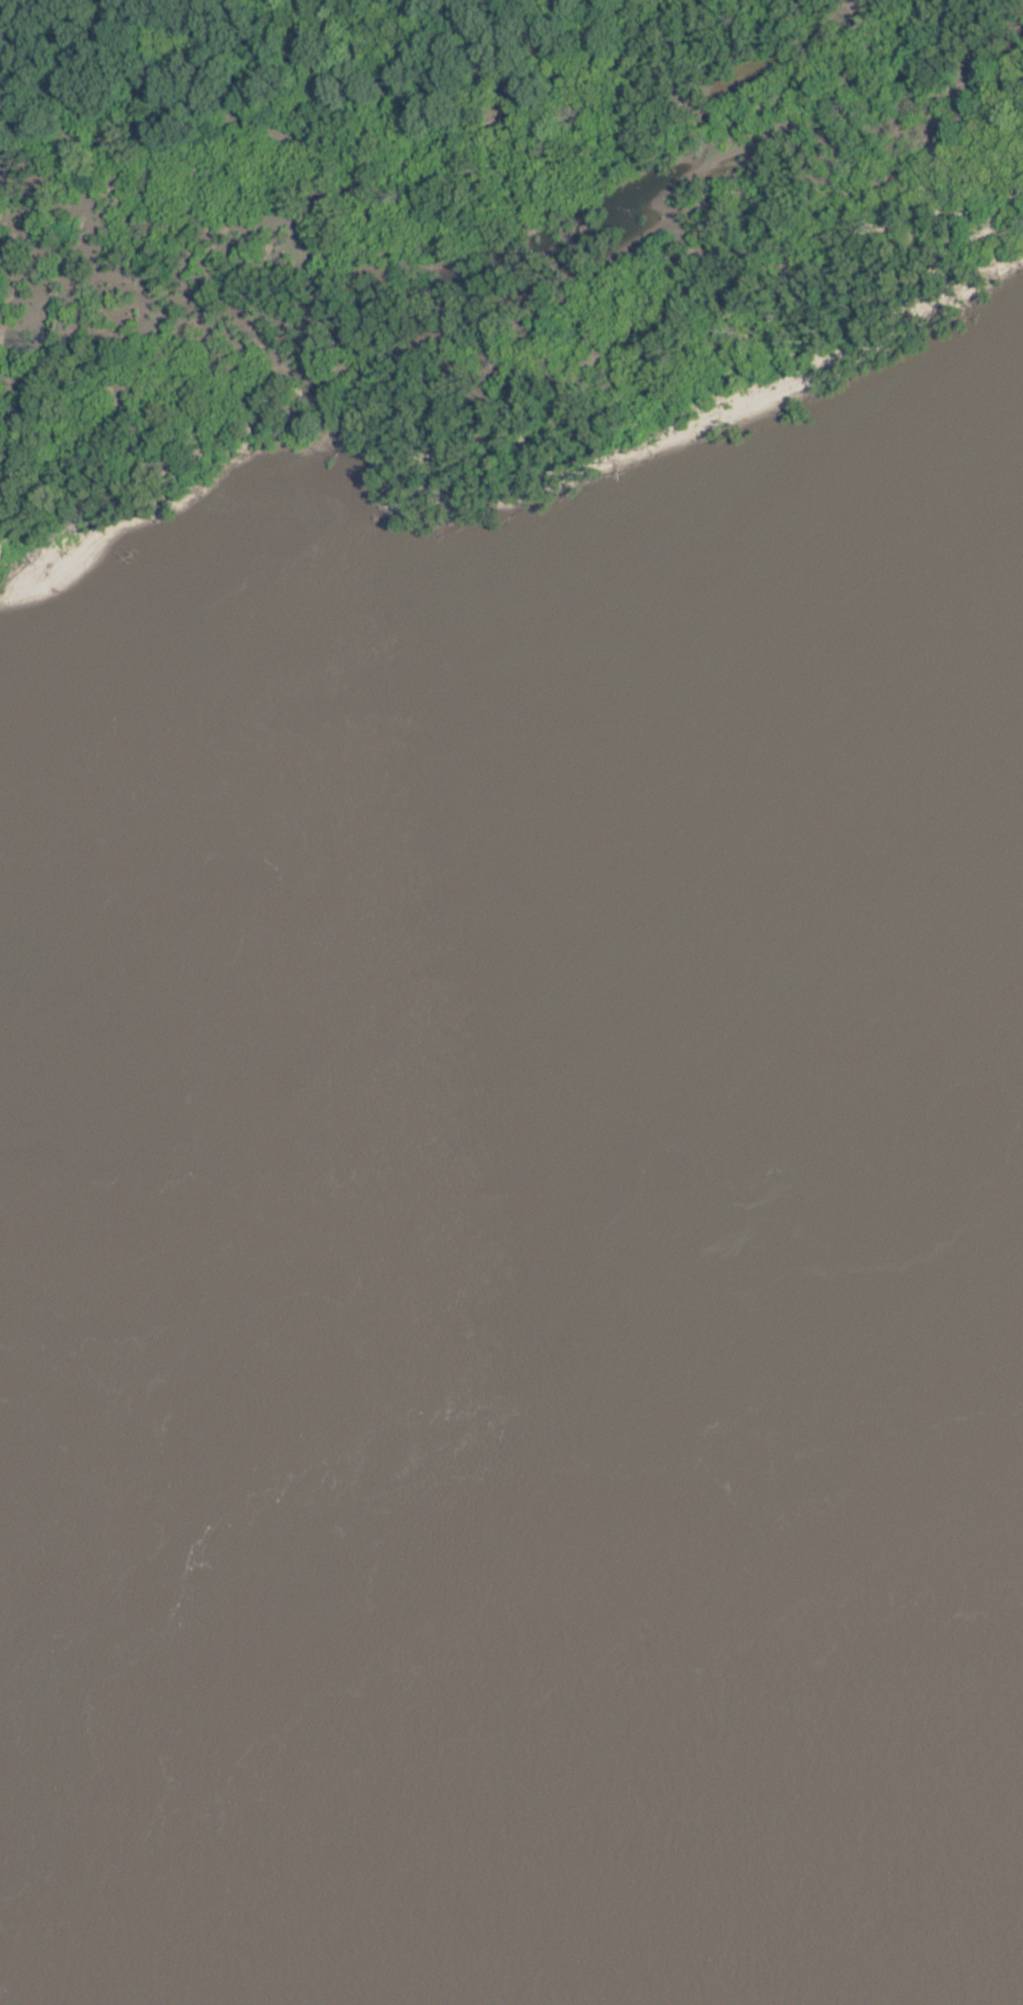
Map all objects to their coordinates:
river: (906, 1985)

